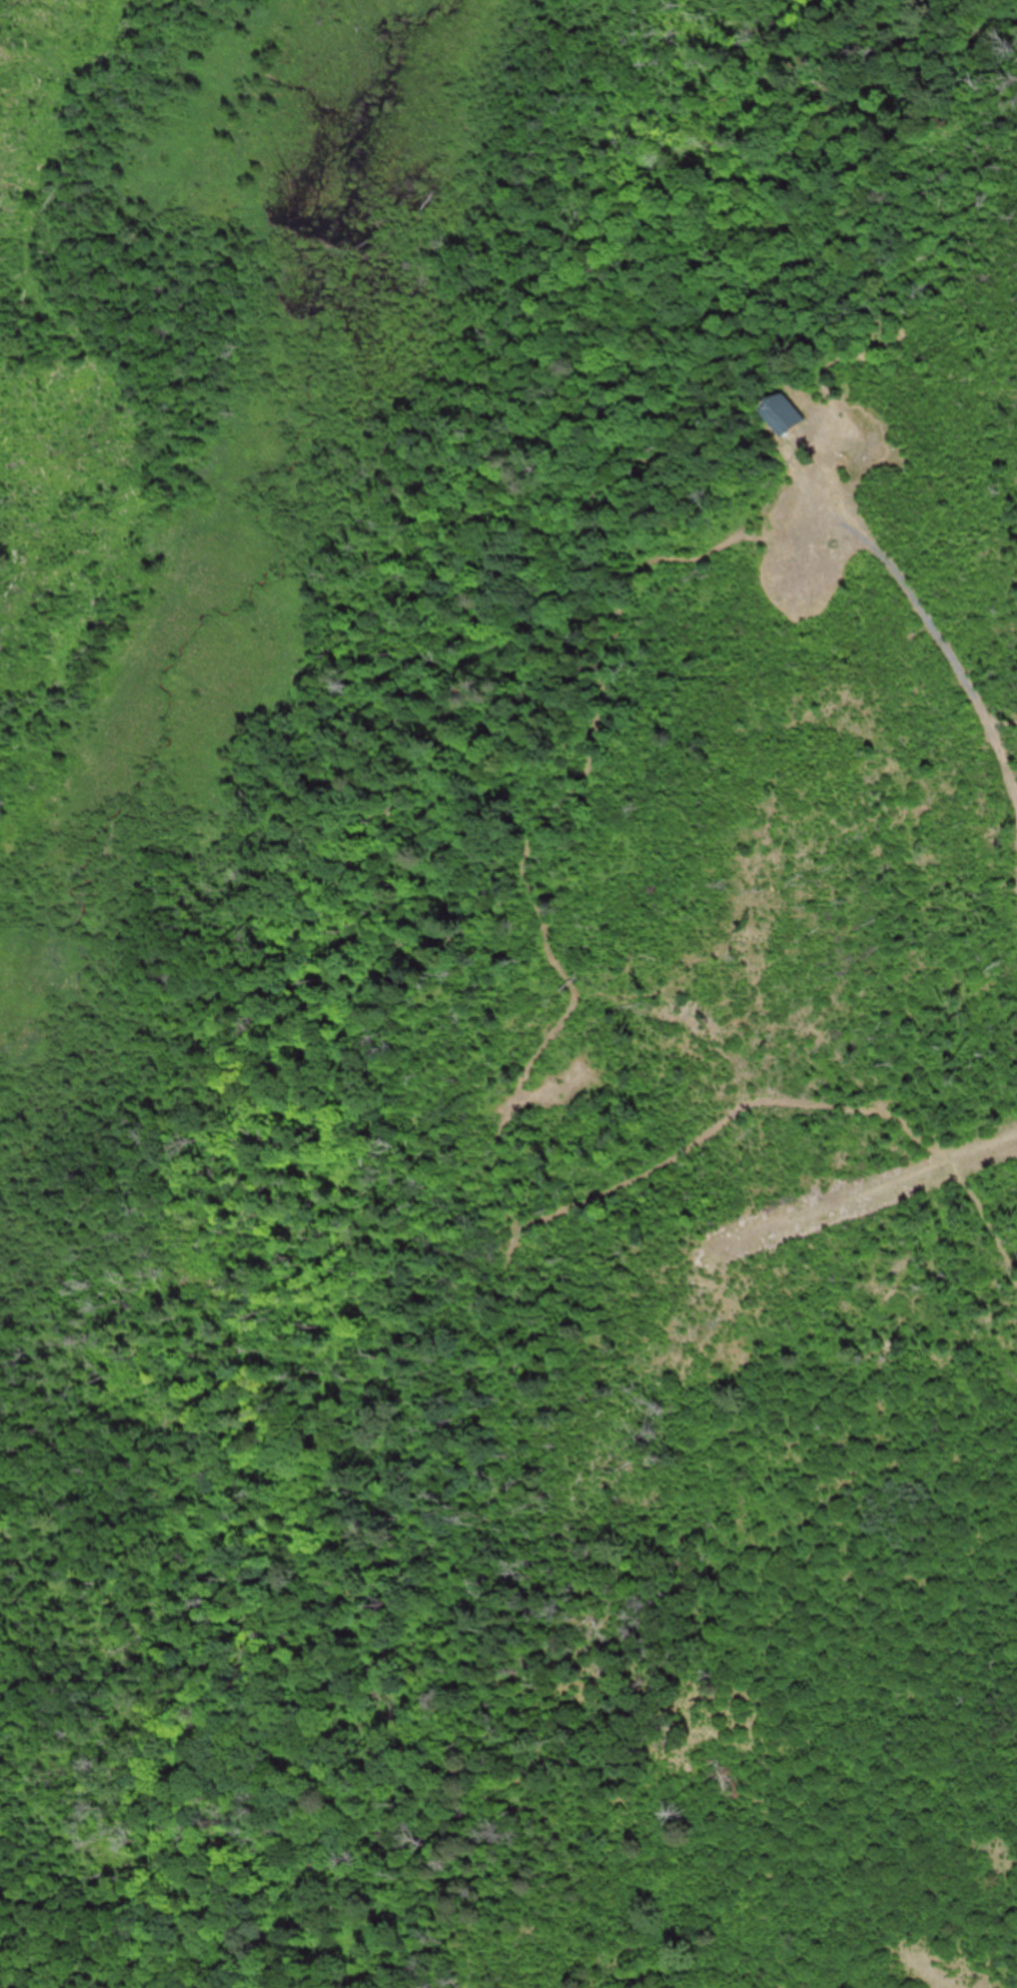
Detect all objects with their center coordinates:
road: (875, 1191)
road: (2, 1964)

